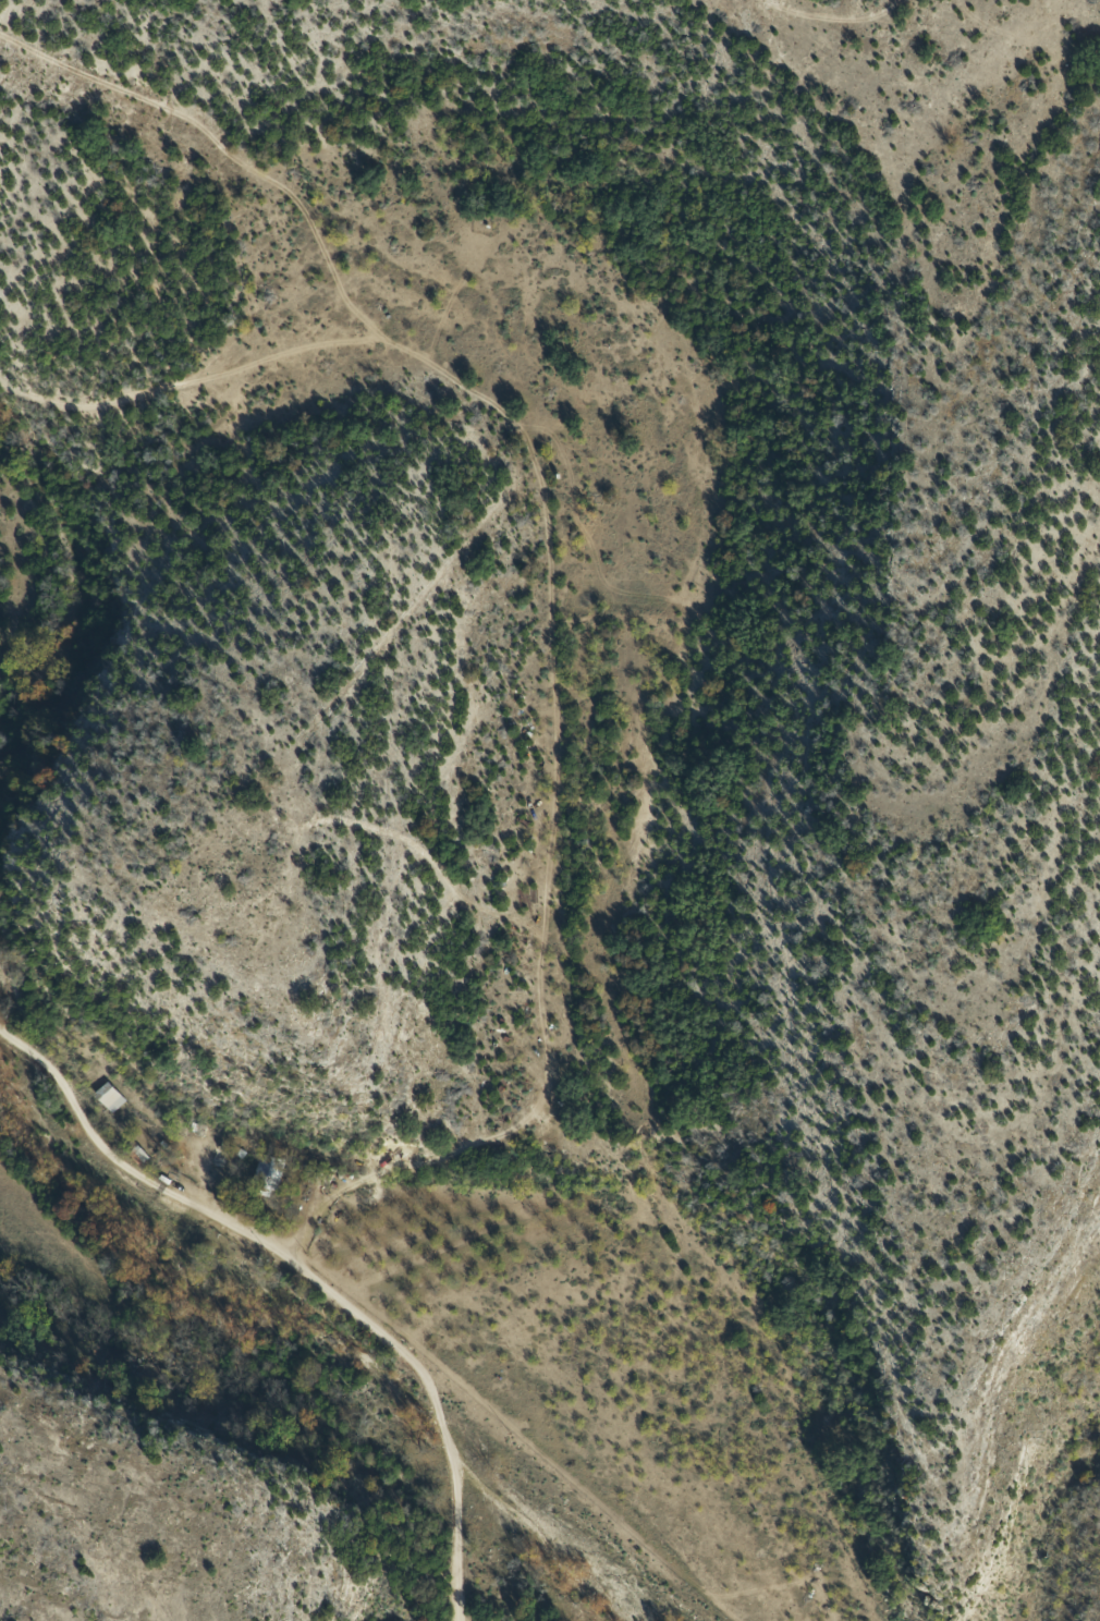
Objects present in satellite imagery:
building: (105, 1097)
road: (313, 1284)

